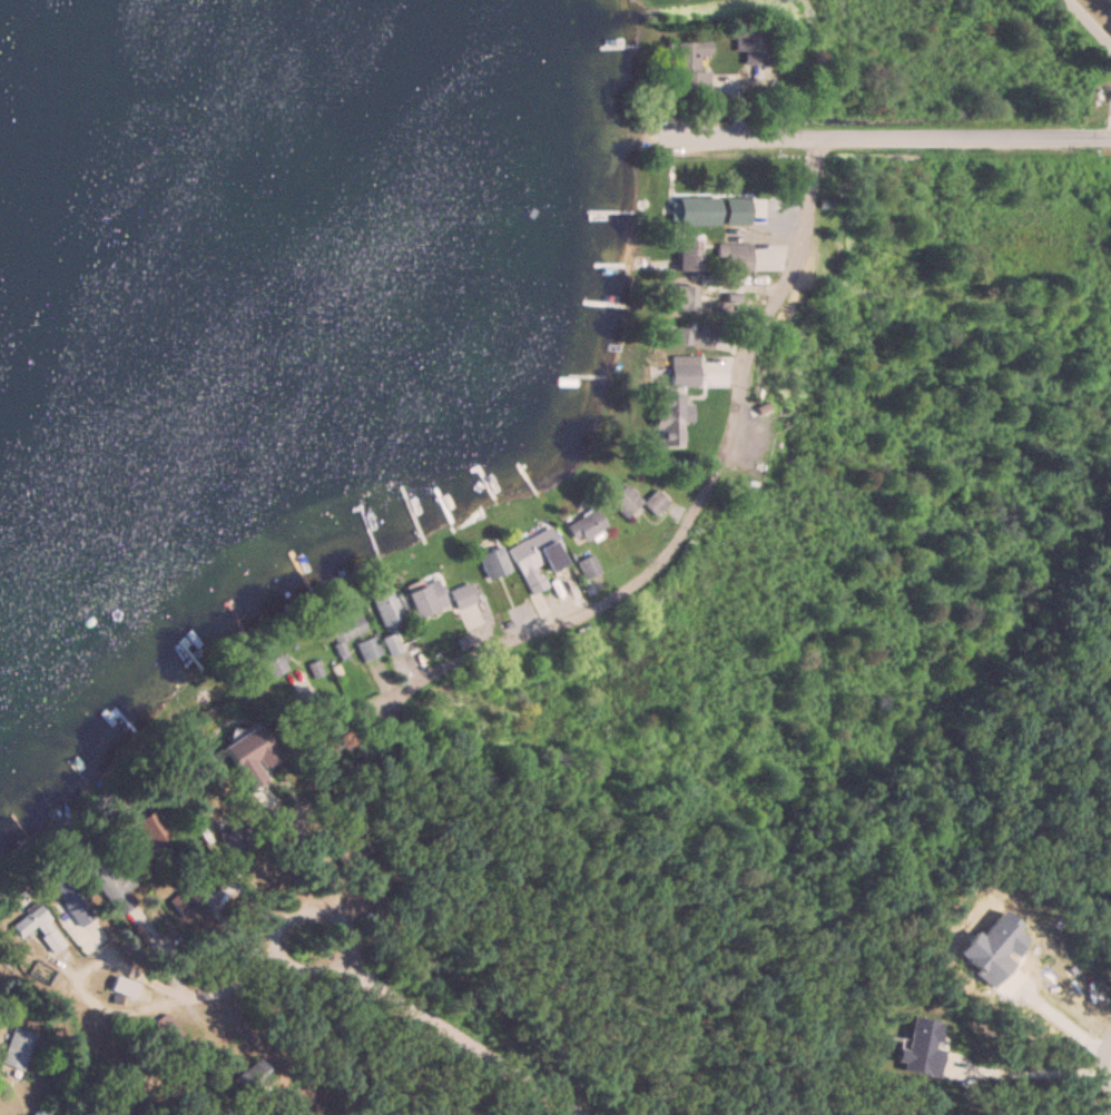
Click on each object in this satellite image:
road: (1090, 23)
building: (754, 47)
building: (689, 67)
road: (961, 136)
road: (712, 138)
building: (711, 216)
building: (735, 257)
building: (687, 258)
building: (679, 296)
building: (690, 338)
building: (682, 371)
building: (672, 410)
building: (635, 502)
road: (685, 522)
building: (584, 526)
building: (535, 559)
building: (492, 564)
building: (587, 568)
building: (460, 596)
building: (425, 599)
building: (346, 629)
building: (391, 644)
building: (367, 649)
building: (269, 659)
building: (248, 756)
building: (144, 832)
building: (235, 835)
road: (316, 842)
building: (351, 845)
building: (110, 880)
building: (71, 902)
building: (181, 902)
road: (224, 920)
building: (27, 921)
road: (277, 926)
road: (185, 991)
road: (1065, 1007)
road: (462, 1037)
building: (18, 1048)
road: (1103, 1060)
road: (1029, 1070)
building: (252, 1077)
road: (1102, 1107)
building: (38, 1113)
road: (0, 1114)

